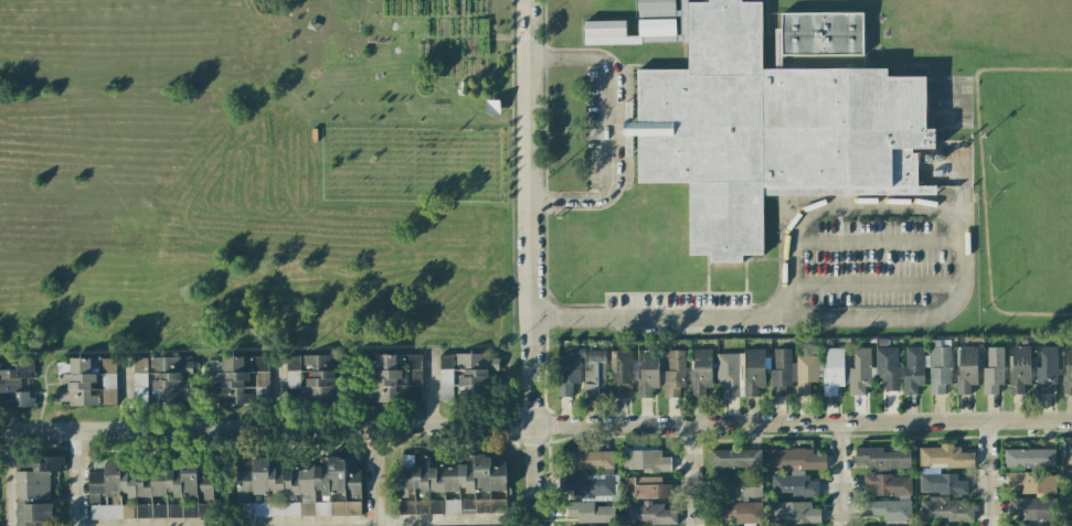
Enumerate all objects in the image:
building: (656, 8)
building: (604, 28)
building: (821, 33)
road: (609, 128)
building: (768, 129)
road: (530, 173)
crop: (251, 174)
road: (875, 240)
road: (875, 282)
road: (921, 315)
building: (887, 367)
building: (938, 367)
building: (1020, 367)
building: (966, 368)
building: (1047, 368)
building: (832, 369)
building: (913, 369)
building: (1068, 369)
building: (754, 371)
building: (993, 371)
building: (293, 372)
building: (569, 372)
building: (700, 372)
building: (782, 372)
building: (860, 372)
building: (594, 373)
building: (620, 373)
building: (647, 373)
building: (675, 373)
building: (728, 373)
building: (806, 373)
building: (465, 374)
building: (237, 377)
building: (320, 378)
building: (170, 379)
building: (394, 379)
building: (86, 380)
building: (15, 383)
road: (803, 422)
road: (267, 429)
road: (534, 437)
building: (1068, 451)
building: (945, 457)
building: (735, 458)
building: (1029, 458)
building: (882, 459)
building: (587, 460)
building: (645, 460)
building: (246, 463)
building: (796, 471)
road: (990, 473)
road: (694, 474)
road: (843, 474)
building: (449, 475)
road: (374, 476)
road: (8, 477)
road: (75, 477)
building: (152, 480)
building: (1070, 481)
building: (1033, 482)
building: (942, 483)
building: (888, 484)
building: (736, 486)
building: (303, 487)
building: (645, 487)
building: (34, 490)
building: (452, 506)
building: (1032, 508)
building: (1071, 508)
building: (892, 509)
building: (944, 509)
building: (150, 511)
building: (743, 511)
building: (590, 512)
building: (795, 512)
building: (648, 513)
road: (341, 524)
building: (777, 524)
building: (1013, 525)
building: (1070, 525)

